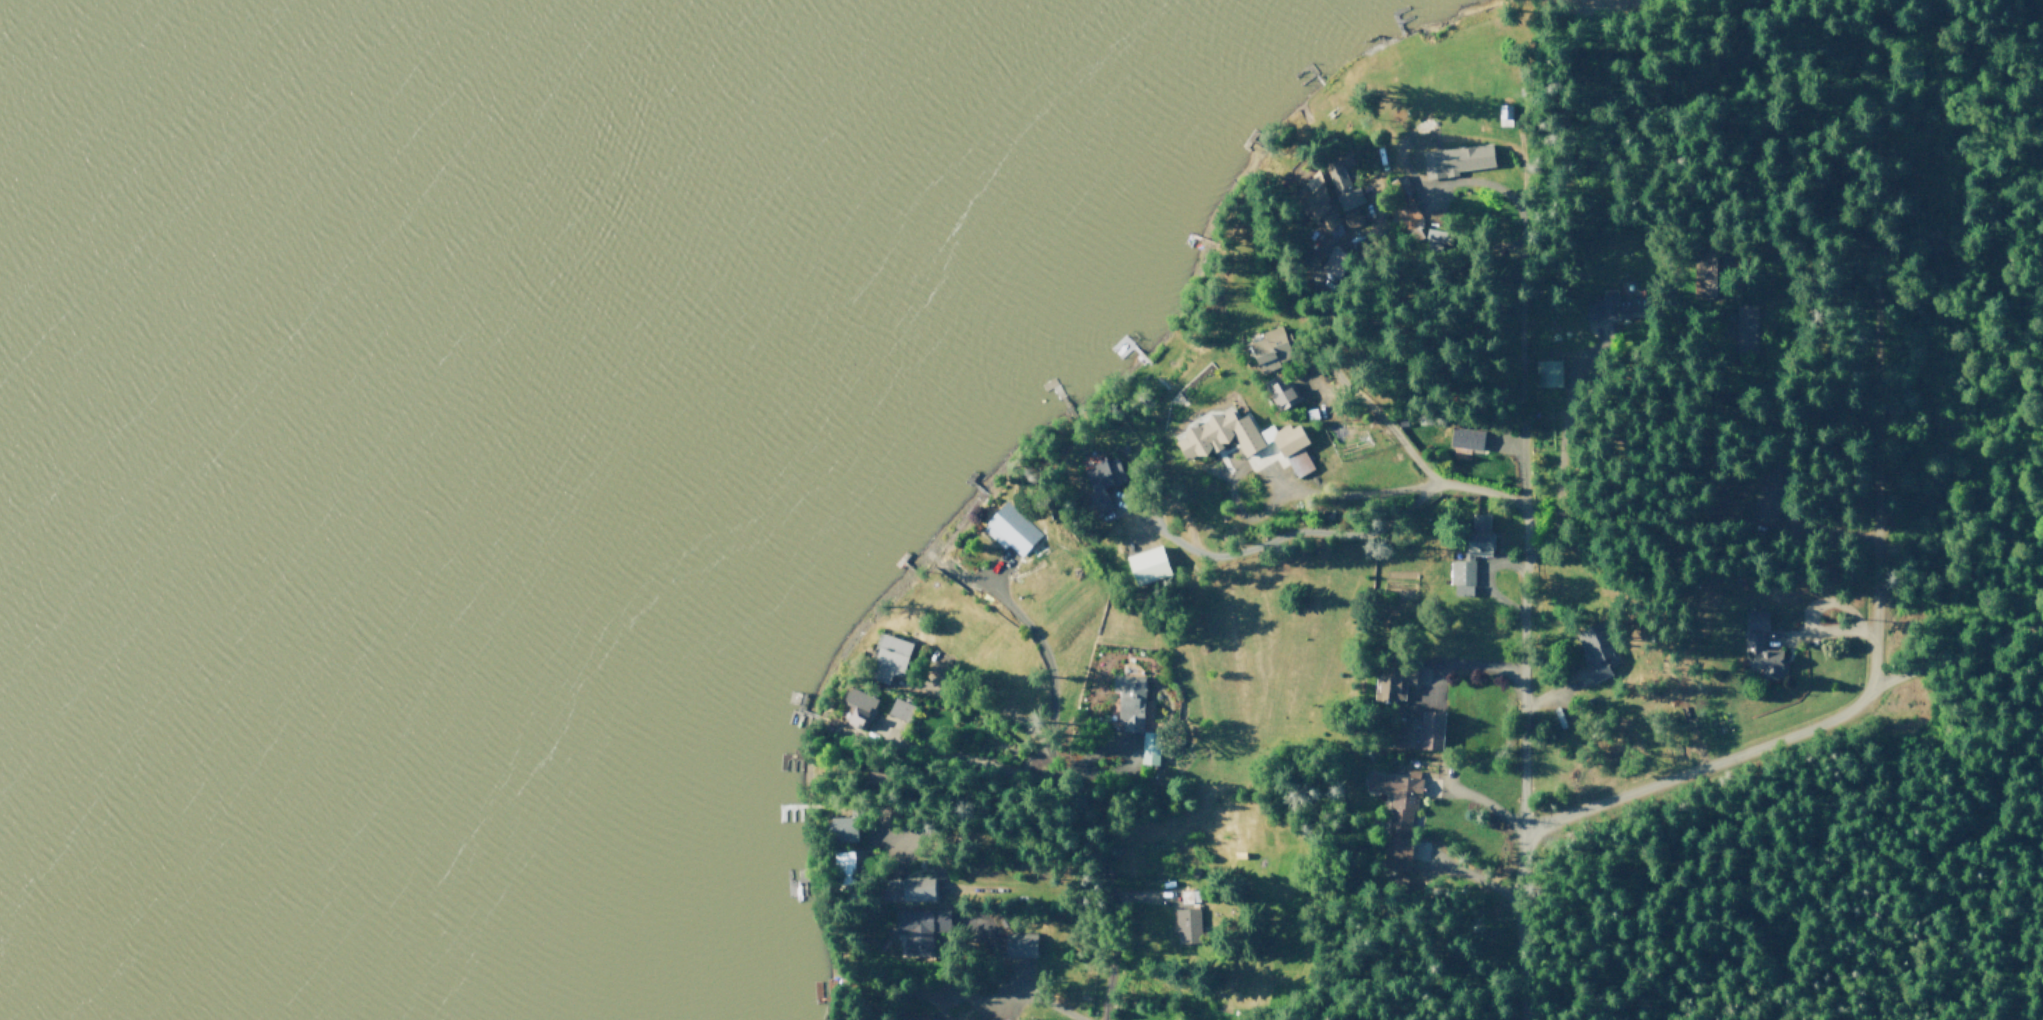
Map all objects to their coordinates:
pier: (1394, 18)
pier: (1403, 20)
road: (1968, 23)
road: (1519, 54)
road: (1780, 66)
pier: (1309, 68)
building: (1504, 116)
building: (1412, 117)
pier: (1248, 139)
road: (1893, 145)
pier: (1261, 146)
road: (1400, 160)
building: (1460, 160)
road: (1527, 171)
building: (1340, 181)
building: (1307, 195)
building: (1413, 214)
building: (1453, 219)
building: (1355, 220)
building: (1702, 279)
building: (1610, 311)
building: (1743, 329)
building: (1270, 350)
river: (145, 360)
building: (1547, 372)
road: (1309, 376)
road: (1567, 386)
road: (1358, 388)
building: (1281, 394)
building: (1215, 434)
building: (1464, 441)
building: (1291, 449)
road: (1507, 451)
building: (1102, 481)
road: (1279, 495)
building: (1769, 499)
road: (1874, 510)
road: (1825, 526)
road: (1277, 527)
building: (1010, 531)
building: (1149, 565)
road: (948, 568)
building: (1468, 568)
road: (991, 574)
road: (1481, 582)
road: (1526, 609)
road: (1836, 637)
building: (1752, 647)
building: (1601, 651)
road: (1957, 654)
building: (891, 657)
road: (1043, 658)
road: (1465, 669)
building: (1394, 679)
building: (1128, 684)
road: (1553, 693)
building: (863, 697)
road: (997, 708)
building: (900, 710)
building: (1132, 714)
building: (1418, 732)
building: (1151, 751)
road: (969, 754)
road: (1106, 756)
road: (1681, 778)
road: (1480, 801)
building: (1397, 811)
road: (946, 829)
building: (848, 833)
building: (846, 865)
road: (1472, 879)
road: (1106, 887)
building: (917, 889)
road: (991, 890)
road: (1137, 895)
building: (1188, 921)
building: (919, 928)
building: (1019, 945)
road: (1031, 999)
road: (974, 1008)
building: (918, 1019)
building: (994, 1019)

